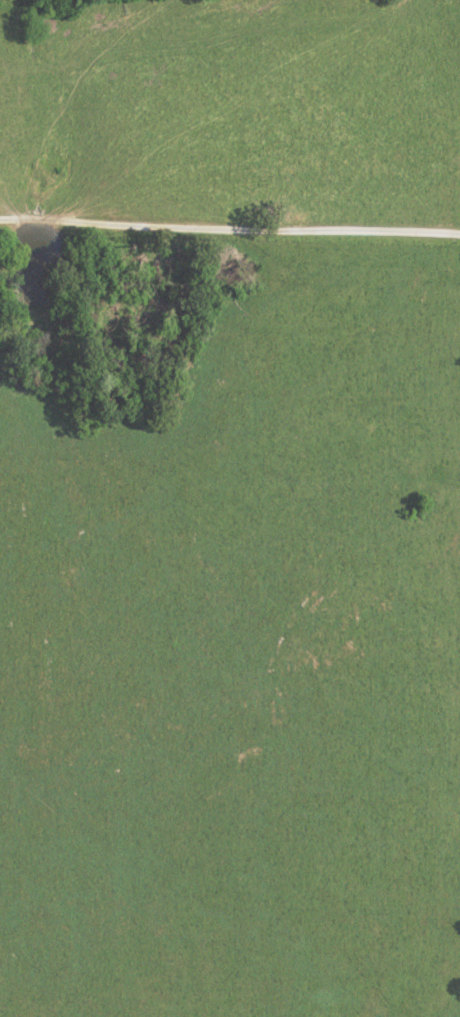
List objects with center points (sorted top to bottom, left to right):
road: (229, 227)

